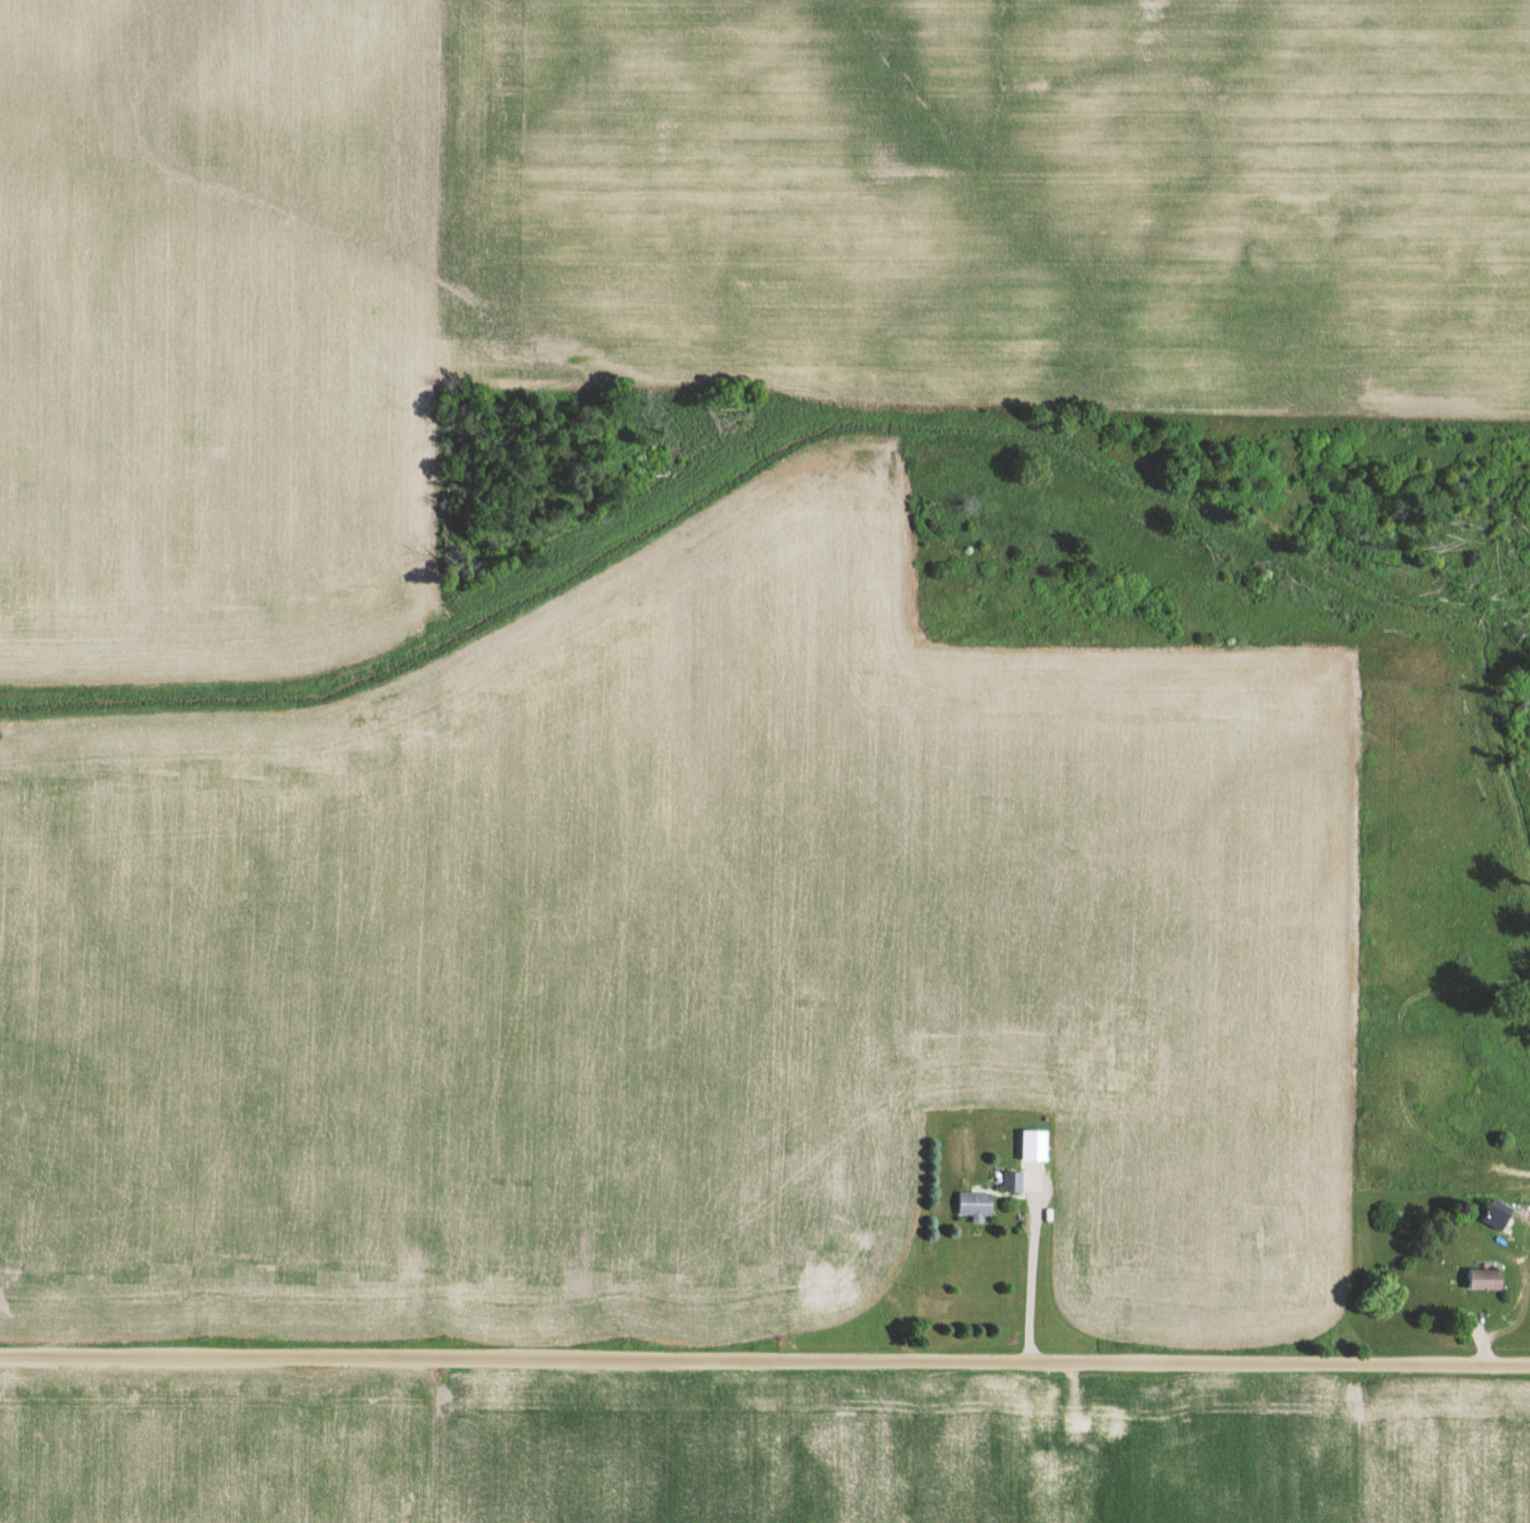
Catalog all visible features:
building: (1023, 1181)
building: (977, 1204)
building: (1500, 1218)
road: (1031, 1277)
building: (1488, 1279)
road: (765, 1356)
building: (1050, 1406)
building: (1120, 1422)
building: (1119, 1507)

